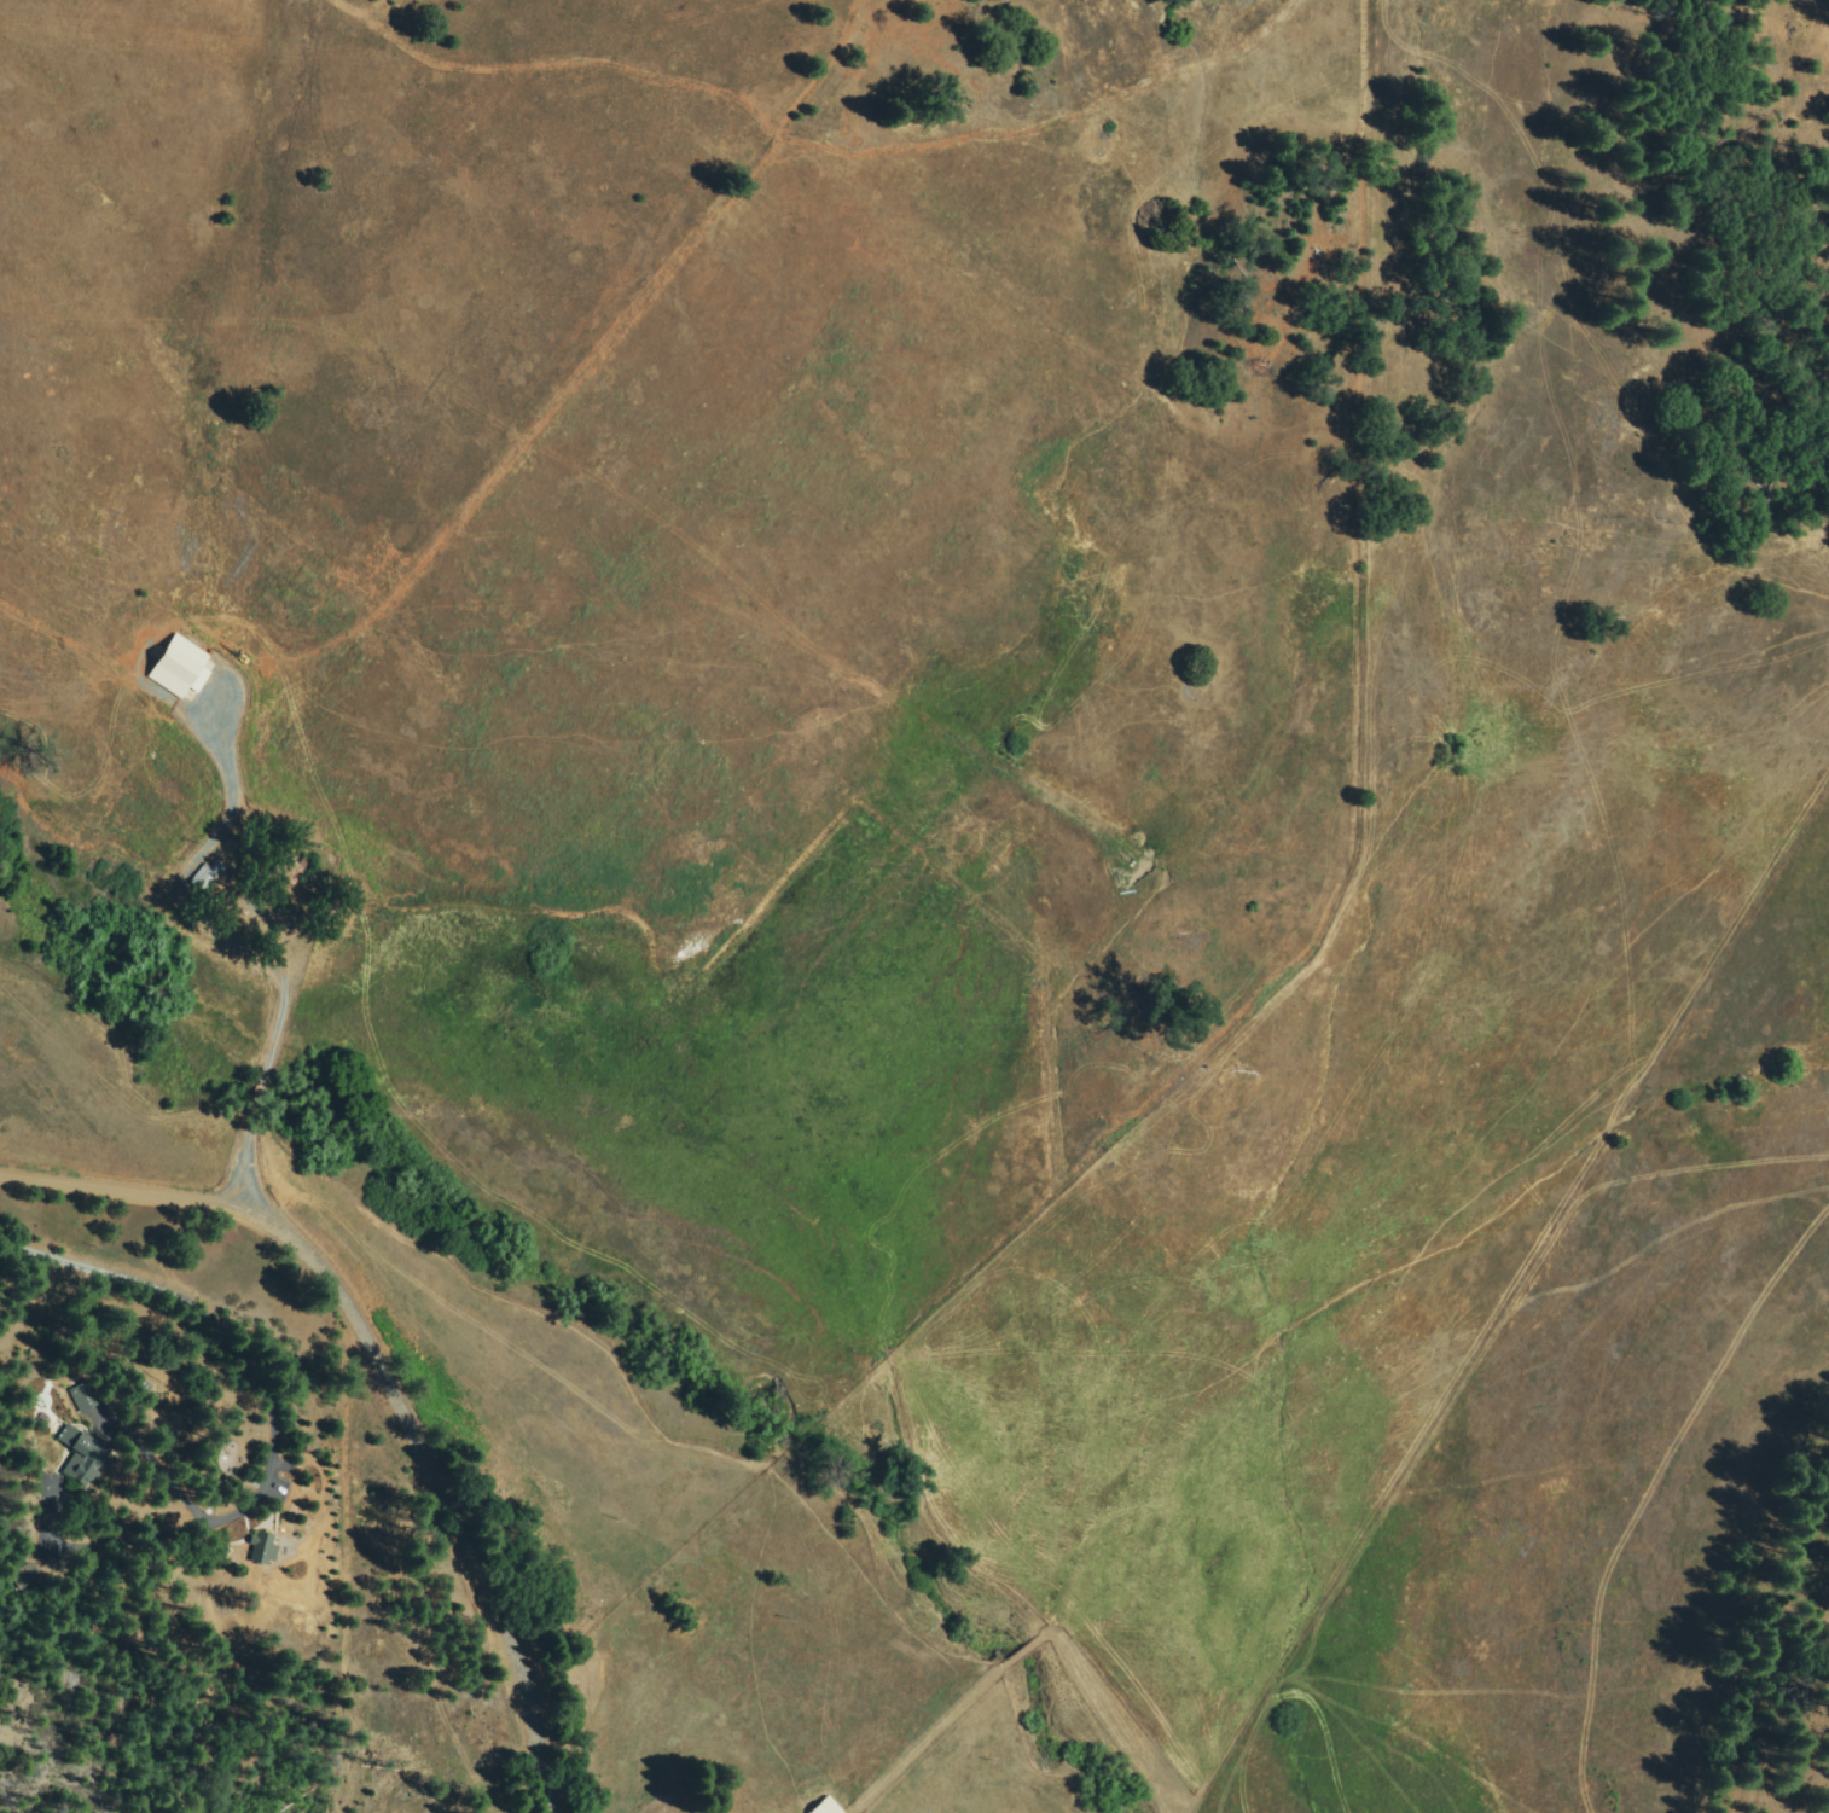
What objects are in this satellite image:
building: (180, 663)
building: (283, 873)
building: (208, 879)
road: (263, 1080)
road: (1279, 1355)
road: (390, 1376)
building: (83, 1394)
building: (81, 1457)
building: (262, 1548)
building: (23, 1575)
building: (828, 1807)

